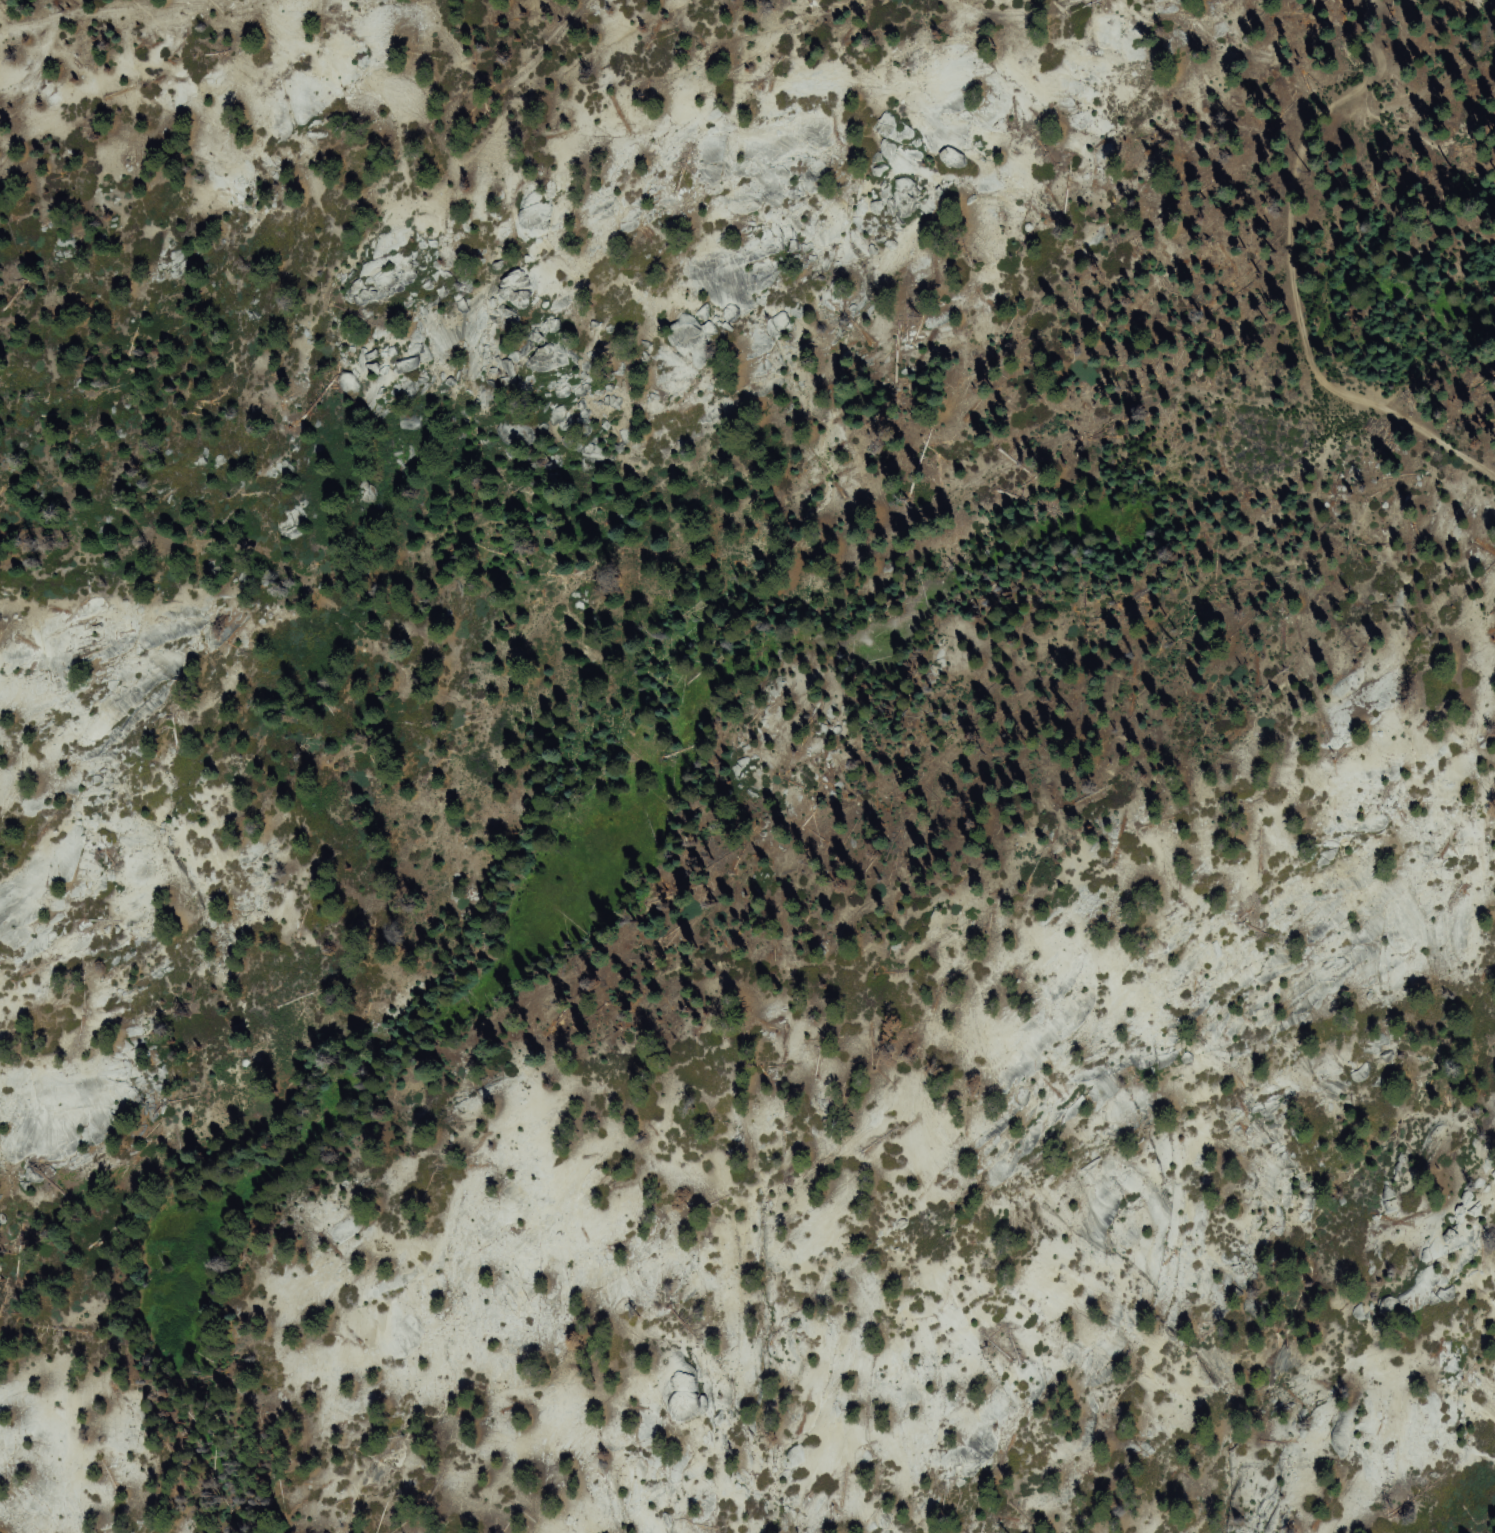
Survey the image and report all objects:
road: (1288, 280)

